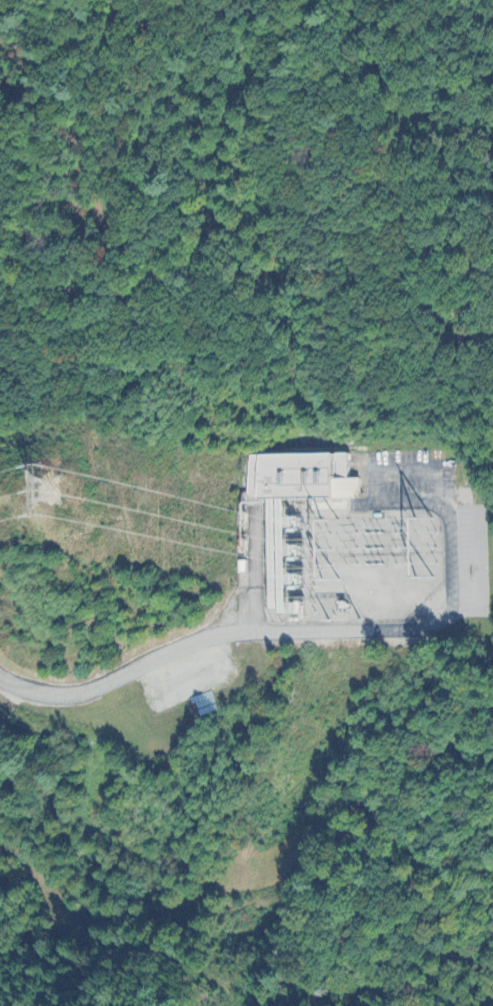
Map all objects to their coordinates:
power tower: (48, 489)
building: (325, 527)
power substation: (346, 545)
power tower: (342, 619)
road: (309, 634)

